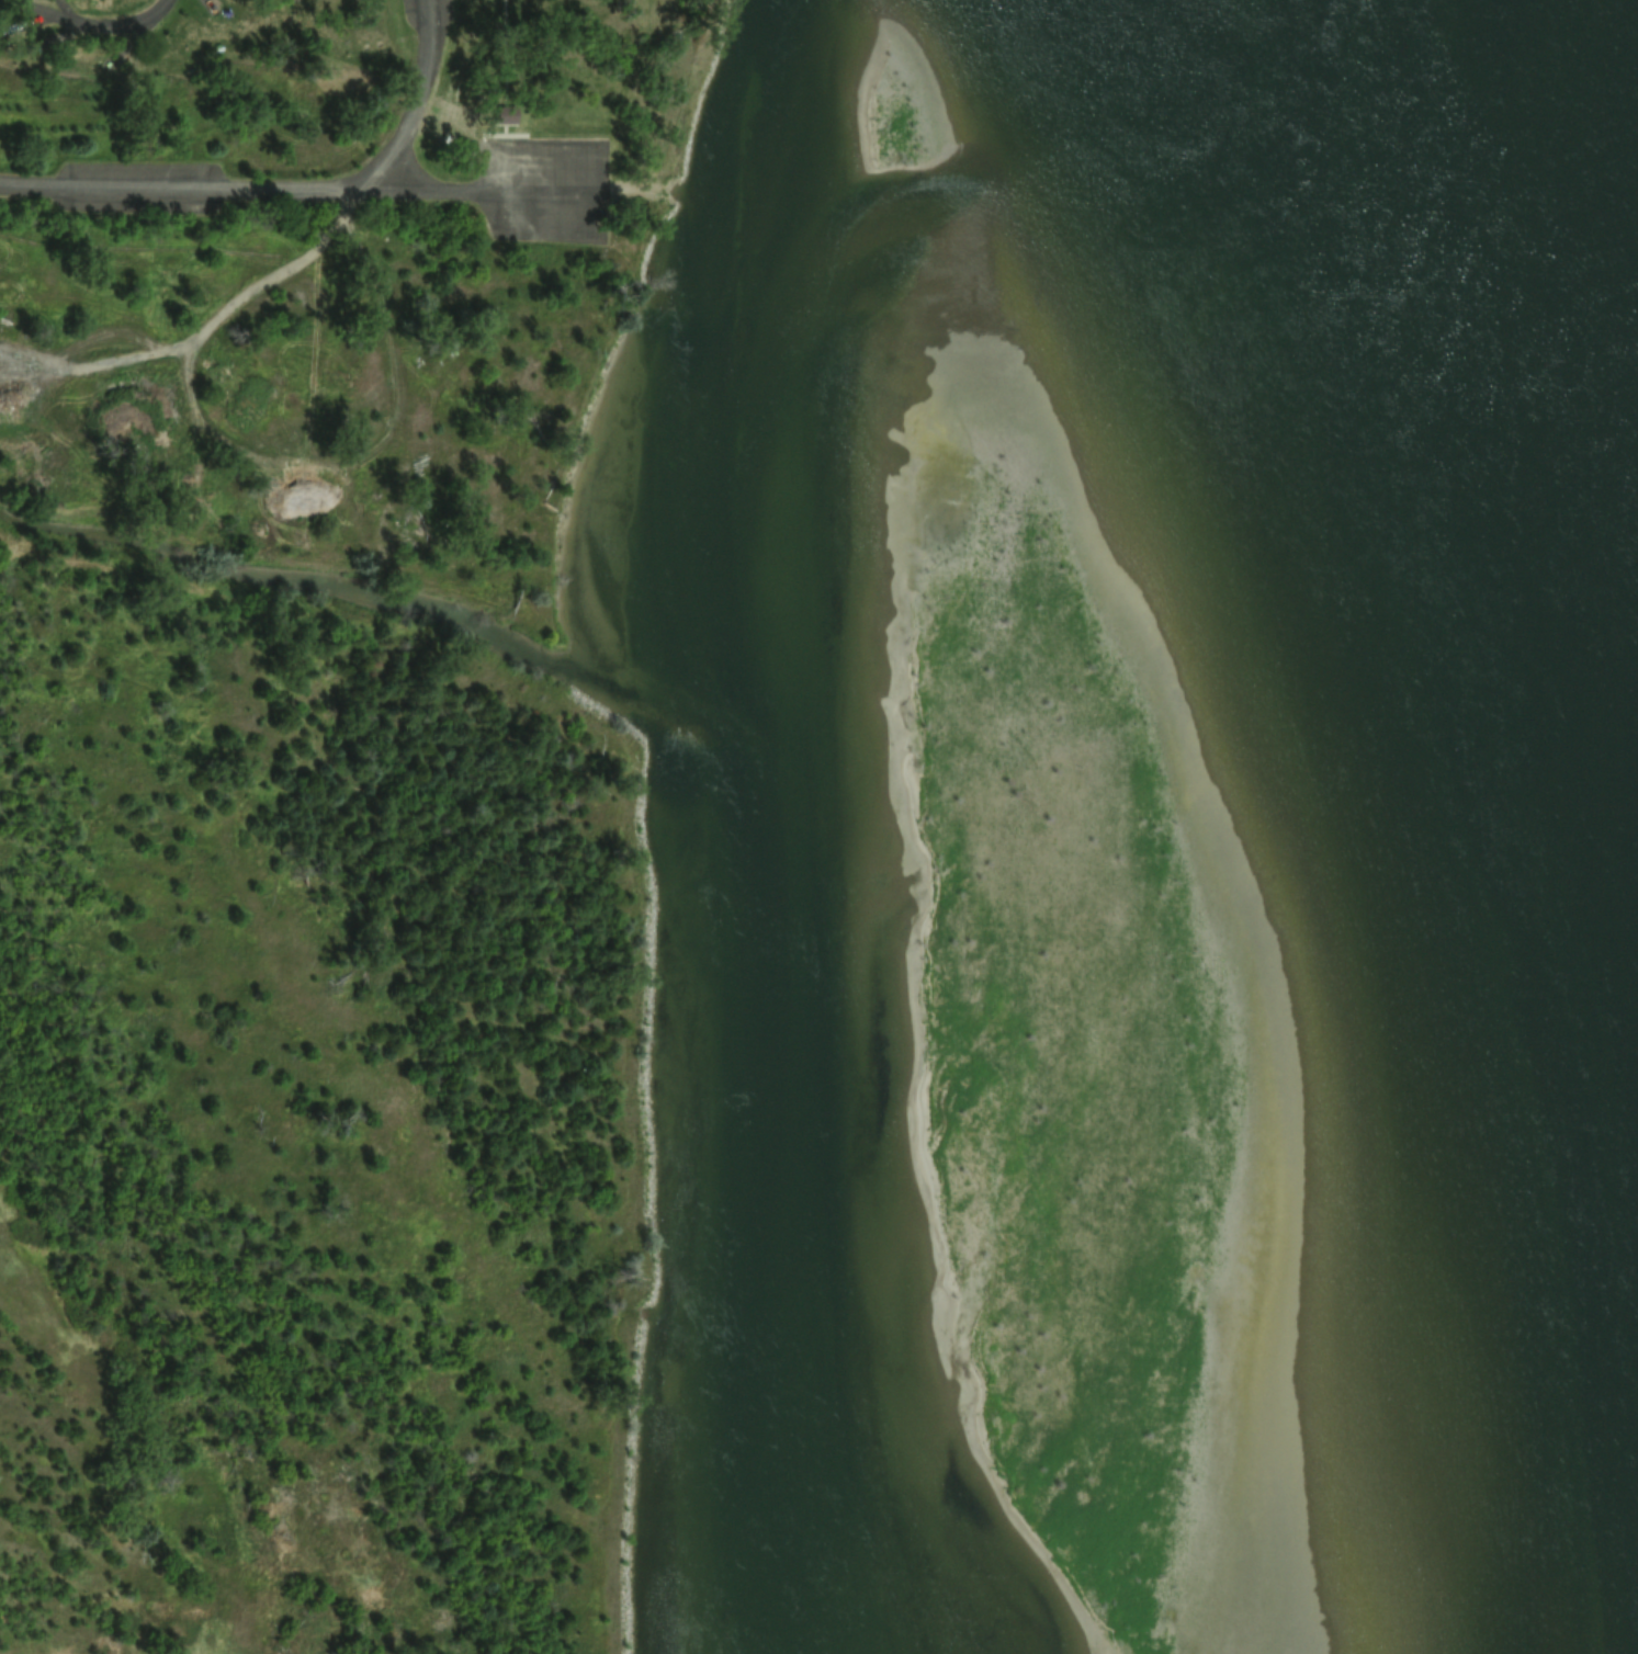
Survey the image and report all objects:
road: (90, 21)
building: (500, 115)
road: (284, 190)
parking lot: (544, 190)
river: (1437, 823)

